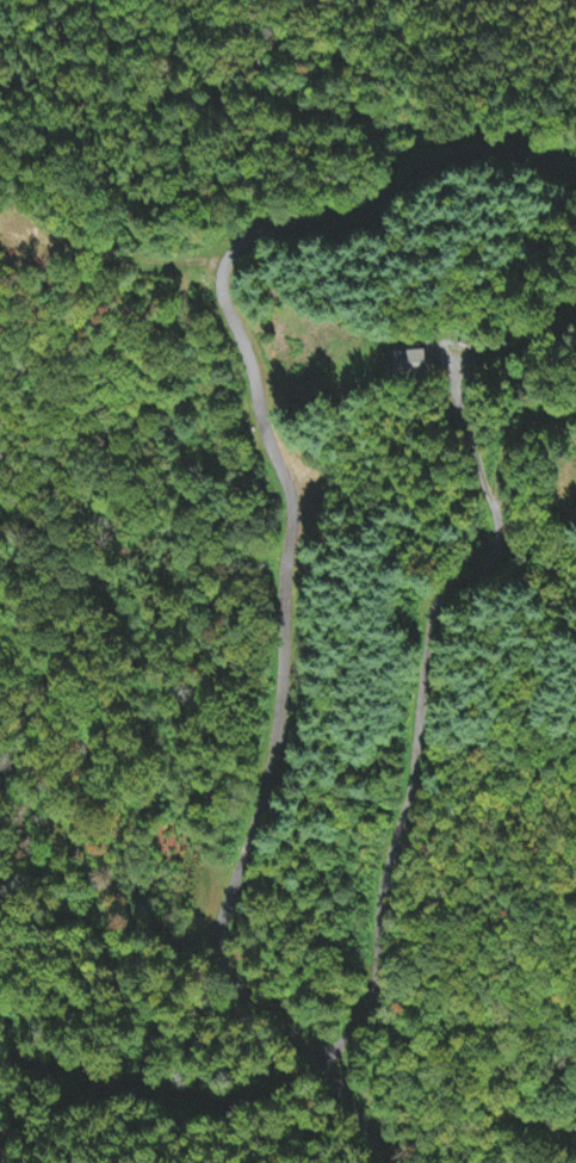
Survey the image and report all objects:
building: (405, 366)
road: (513, 434)
road: (574, 483)
road: (287, 546)
road: (419, 729)
road: (370, 1001)
road: (341, 1043)
road: (161, 1091)

